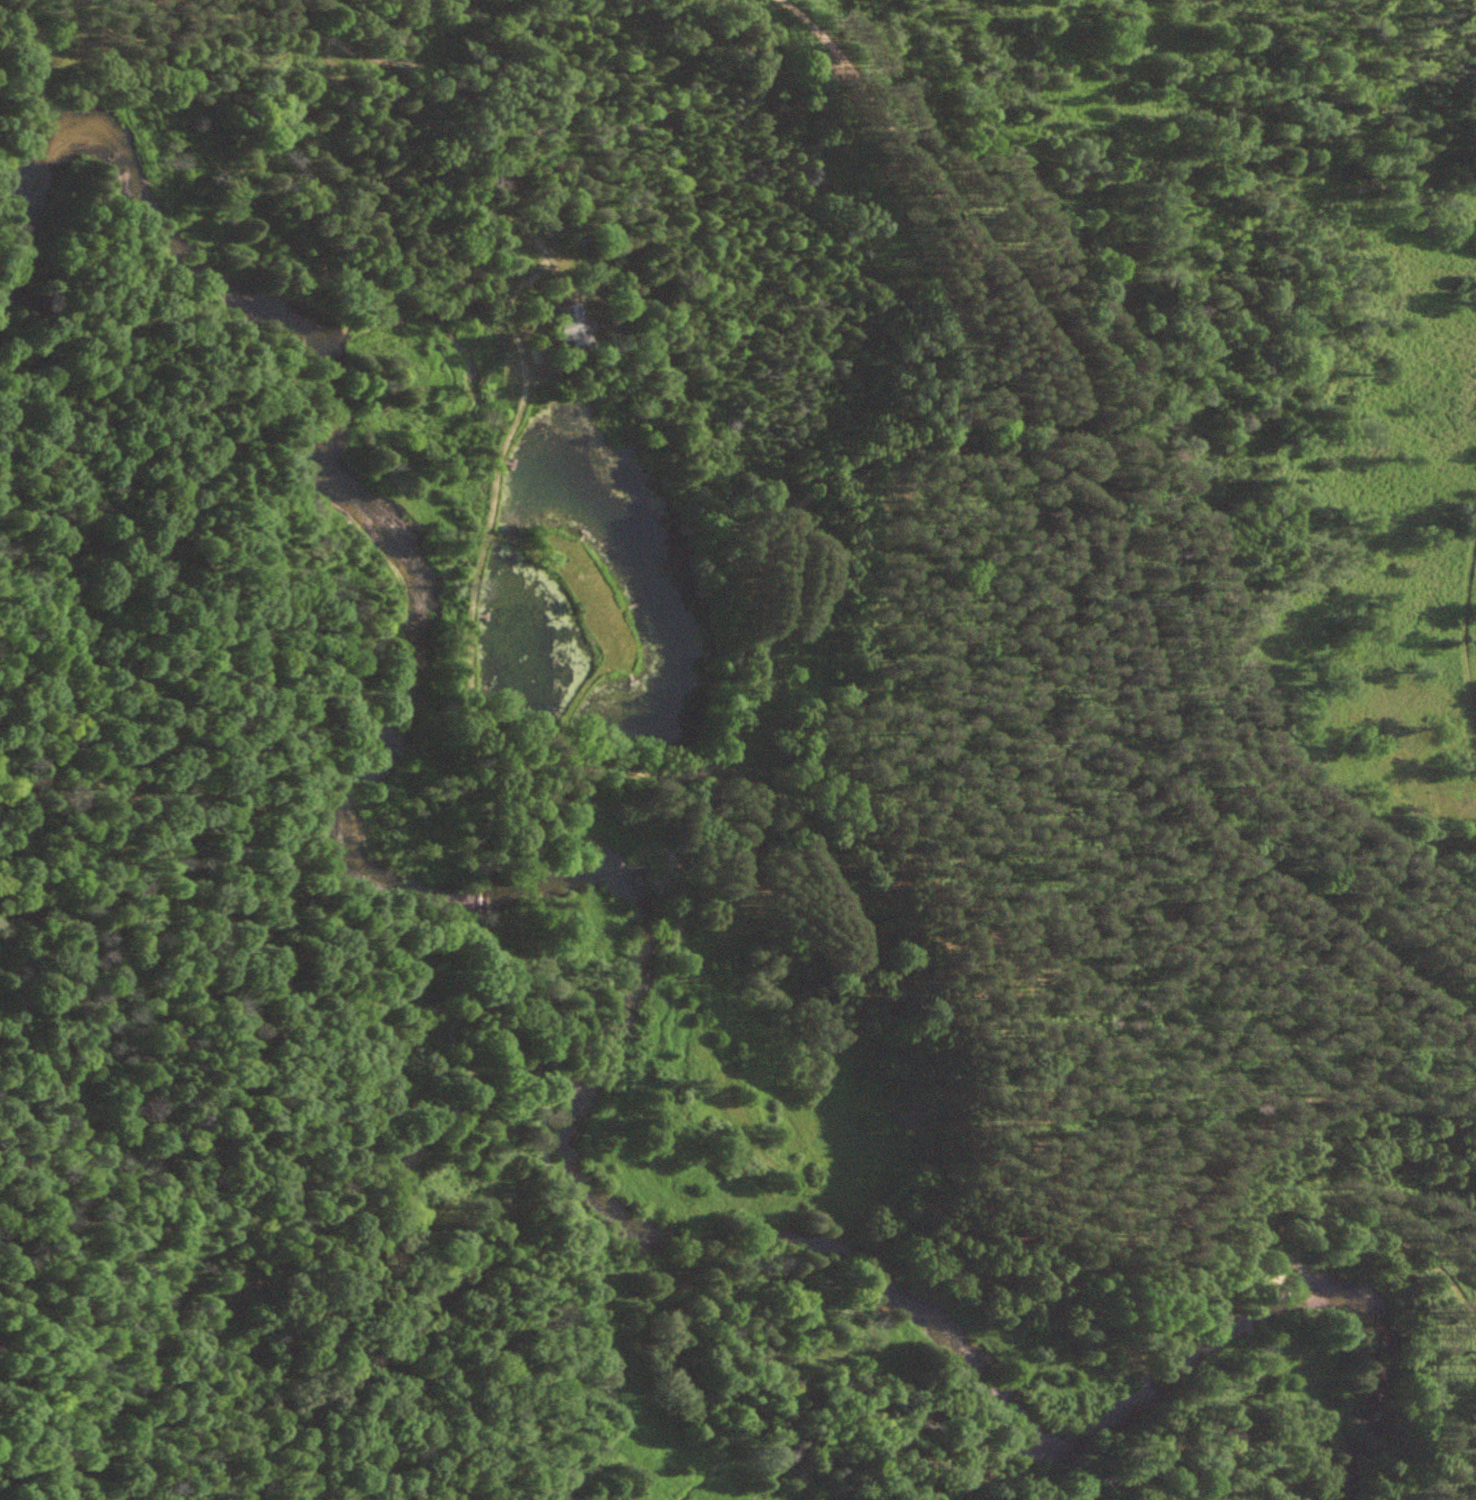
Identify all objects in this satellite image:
building: (569, 325)
road: (1113, 531)
road: (1459, 635)
river: (636, 898)
building: (402, 1154)
road: (595, 1287)

